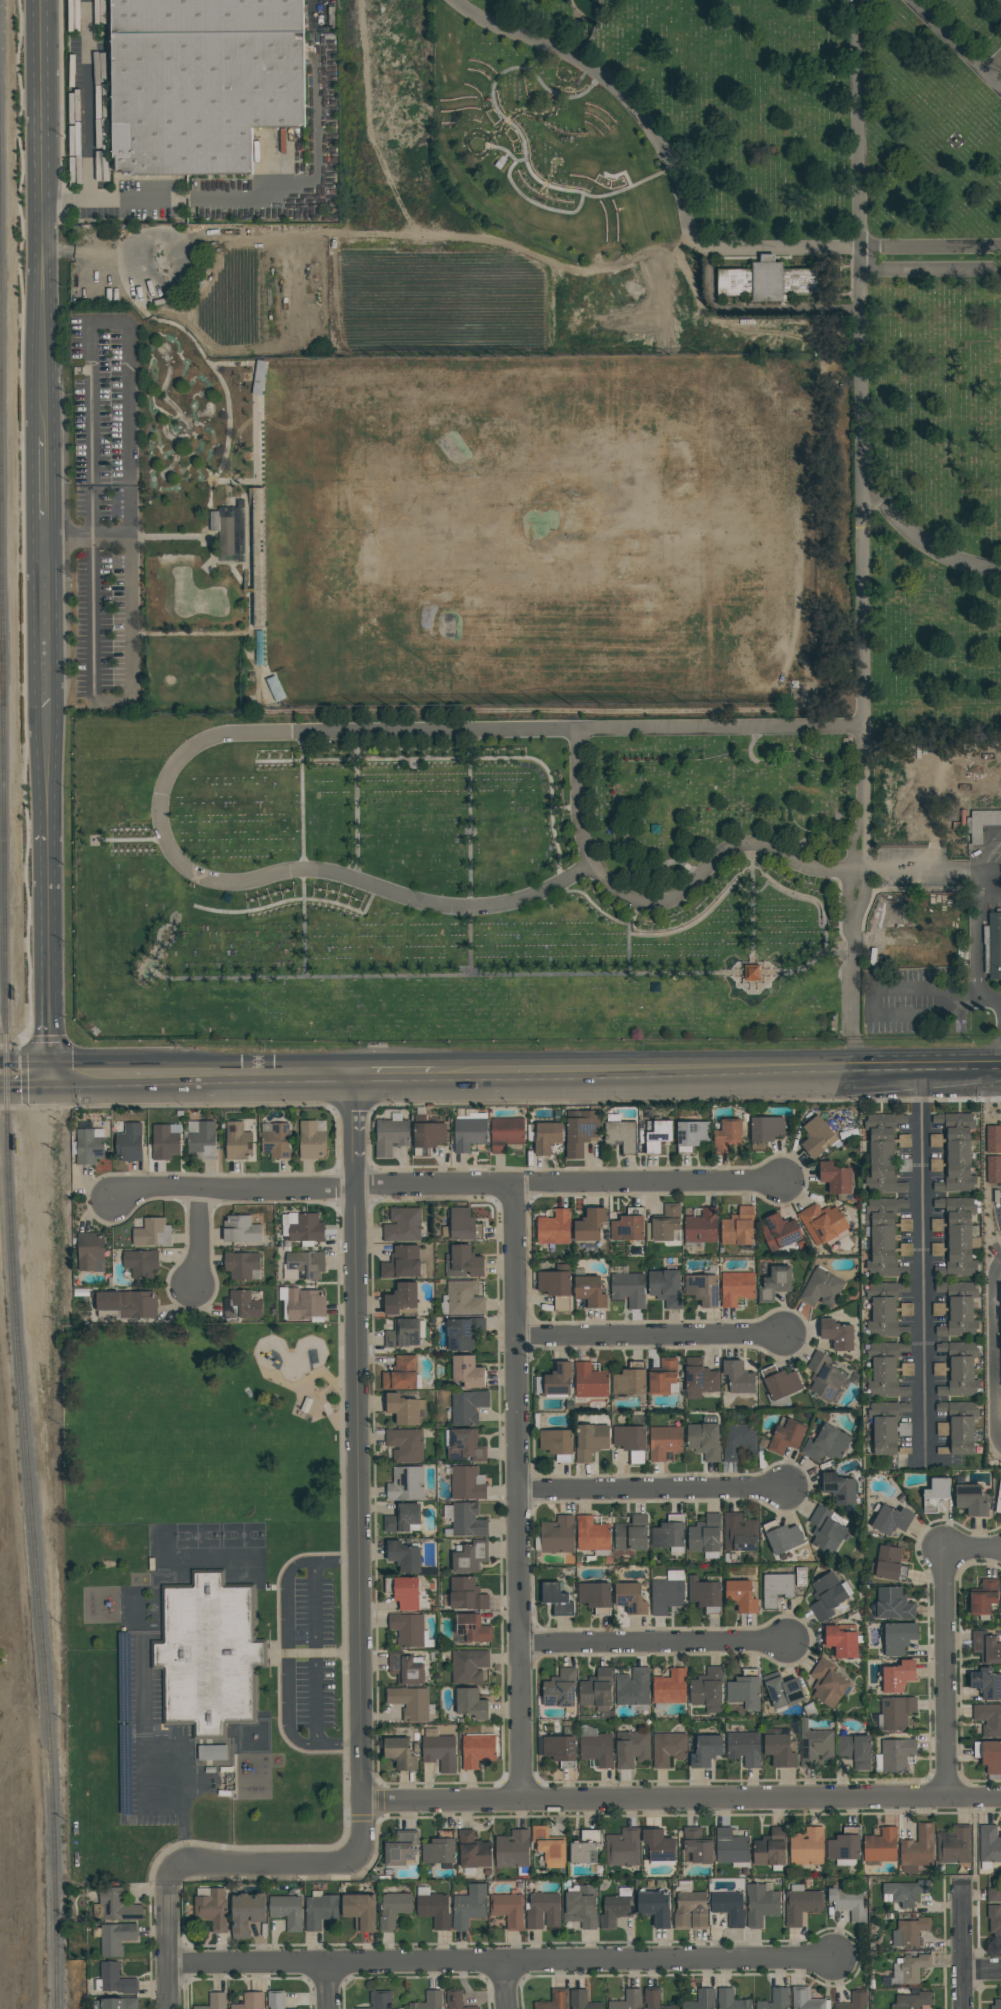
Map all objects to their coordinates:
road: (953, 45)
road: (993, 67)
building: (202, 82)
road: (613, 88)
road: (89, 120)
road: (857, 123)
road: (198, 198)
road: (930, 246)
road: (779, 247)
road: (859, 259)
road: (930, 271)
building: (766, 281)
building: (259, 378)
road: (129, 476)
road: (92, 477)
road: (15, 521)
railway: (1, 524)
building: (229, 528)
park: (923, 533)
road: (43, 536)
road: (918, 541)
road: (862, 544)
road: (131, 604)
road: (94, 613)
railway: (2, 665)
road: (241, 733)
building: (982, 823)
road: (986, 850)
road: (988, 870)
road: (858, 871)
road: (921, 871)
road: (849, 880)
road: (865, 881)
road: (659, 903)
road: (976, 944)
building: (993, 946)
building: (752, 972)
road: (853, 989)
road: (853, 1050)
road: (26, 1062)
road: (717, 1069)
road: (394, 1072)
road: (202, 1073)
road: (26, 1085)
building: (766, 1129)
building: (470, 1132)
building: (581, 1132)
building: (506, 1134)
building: (693, 1134)
building: (391, 1135)
building: (429, 1135)
building: (621, 1135)
building: (657, 1135)
building: (727, 1136)
building: (545, 1137)
building: (817, 1137)
building: (202, 1139)
building: (312, 1139)
building: (935, 1140)
building: (165, 1141)
building: (277, 1141)
building: (238, 1142)
building: (130, 1143)
building: (89, 1145)
building: (956, 1153)
building: (882, 1155)
building: (935, 1165)
building: (835, 1178)
road: (446, 1183)
building: (667, 1223)
building: (822, 1223)
building: (403, 1225)
building: (589, 1225)
building: (462, 1226)
building: (628, 1226)
building: (701, 1226)
building: (302, 1227)
building: (738, 1227)
building: (554, 1228)
building: (241, 1229)
building: (780, 1232)
building: (152, 1233)
building: (958, 1236)
building: (882, 1237)
road: (198, 1238)
building: (90, 1252)
road: (921, 1260)
building: (141, 1263)
building: (402, 1263)
building: (463, 1263)
building: (242, 1266)
building: (554, 1283)
building: (775, 1284)
building: (665, 1287)
building: (736, 1288)
building: (821, 1288)
building: (629, 1289)
building: (703, 1289)
building: (590, 1291)
building: (462, 1298)
building: (402, 1299)
building: (127, 1303)
building: (245, 1304)
building: (305, 1304)
building: (885, 1309)
building: (938, 1309)
building: (959, 1309)
building: (906, 1311)
building: (463, 1332)
building: (403, 1333)
road: (653, 1334)
building: (837, 1335)
railway: (20, 1348)
road: (992, 1350)
building: (405, 1363)
building: (907, 1369)
building: (939, 1369)
building: (959, 1369)
building: (886, 1370)
building: (467, 1371)
building: (663, 1376)
building: (824, 1377)
building: (700, 1378)
building: (738, 1378)
building: (398, 1380)
building: (558, 1380)
building: (590, 1381)
building: (630, 1381)
building: (468, 1406)
building: (941, 1407)
building: (404, 1409)
park: (205, 1426)
building: (887, 1426)
building: (962, 1427)
building: (786, 1437)
building: (629, 1438)
building: (737, 1440)
building: (591, 1441)
building: (704, 1441)
building: (664, 1442)
building: (557, 1444)
building: (827, 1444)
building: (405, 1445)
building: (464, 1445)
road: (355, 1465)
building: (467, 1483)
building: (406, 1484)
building: (839, 1488)
road: (651, 1489)
road: (518, 1492)
building: (937, 1496)
building: (998, 1498)
building: (970, 1499)
building: (403, 1519)
building: (891, 1520)
building: (466, 1521)
building: (826, 1530)
building: (631, 1534)
building: (667, 1534)
building: (739, 1534)
building: (591, 1535)
building: (704, 1535)
building: (556, 1536)
building: (781, 1537)
road: (972, 1549)
building: (403, 1557)
building: (469, 1557)
road: (334, 1563)
building: (888, 1565)
building: (800, 1577)
building: (775, 1589)
building: (405, 1594)
building: (465, 1595)
building: (704, 1595)
building: (665, 1596)
building: (740, 1596)
building: (826, 1596)
building: (594, 1597)
building: (984, 1598)
building: (630, 1599)
building: (556, 1600)
building: (893, 1604)
building: (471, 1629)
building: (407, 1630)
building: (898, 1638)
building: (841, 1641)
road: (651, 1642)
road: (289, 1644)
building: (986, 1647)
road: (314, 1654)
building: (207, 1655)
building: (467, 1666)
building: (404, 1669)
road: (944, 1673)
building: (897, 1677)
building: (827, 1684)
building: (986, 1684)
building: (632, 1688)
building: (669, 1688)
building: (559, 1690)
building: (744, 1690)
building: (596, 1691)
building: (707, 1691)
building: (783, 1693)
building: (410, 1703)
building: (470, 1704)
building: (896, 1712)
building: (988, 1719)
road: (305, 1743)
road: (337, 1745)
building: (813, 1745)
building: (743, 1748)
road: (167, 1749)
building: (631, 1749)
building: (667, 1749)
building: (477, 1750)
building: (597, 1750)
building: (438, 1751)
building: (558, 1751)
building: (705, 1751)
building: (779, 1751)
building: (855, 1751)
building: (212, 1753)
building: (399, 1755)
building: (895, 1755)
building: (989, 1756)
road: (679, 1800)
building: (989, 1844)
building: (658, 1846)
building: (697, 1846)
building: (843, 1846)
building: (953, 1846)
building: (548, 1847)
building: (730, 1847)
building: (806, 1847)
building: (880, 1847)
building: (584, 1848)
building: (622, 1848)
building: (400, 1849)
building: (769, 1849)
building: (439, 1850)
building: (511, 1850)
building: (916, 1850)
building: (472, 1851)
road: (264, 1859)
road: (170, 1878)
building: (684, 1886)
building: (906, 1892)
building: (993, 1895)
building: (848, 1903)
building: (801, 1904)
building: (760, 1905)
building: (117, 1906)
building: (468, 1906)
building: (729, 1906)
building: (581, 1907)
building: (655, 1907)
building: (507, 1908)
building: (616, 1908)
building: (212, 1909)
building: (393, 1909)
building: (434, 1909)
building: (320, 1910)
building: (360, 1910)
building: (542, 1910)
building: (690, 1910)
building: (288, 1911)
building: (246, 1913)
building: (994, 1921)
building: (912, 1930)
building: (115, 1938)
road: (962, 1949)
road: (169, 1952)
road: (492, 1963)
building: (909, 1970)
road: (982, 1970)
building: (115, 1979)
road: (504, 1986)
road: (325, 1987)
building: (653, 1999)
building: (774, 1999)
building: (804, 1999)
building: (275, 2000)
building: (379, 2000)
building: (456, 2000)
building: (581, 2000)
building: (627, 2000)
building: (701, 2000)
building: (730, 2000)
building: (215, 2001)
building: (251, 2001)
building: (428, 2001)
building: (553, 2001)
building: (854, 2001)
building: (912, 2001)
building: (119, 2003)
building: (996, 2004)
building: (295, 2008)

